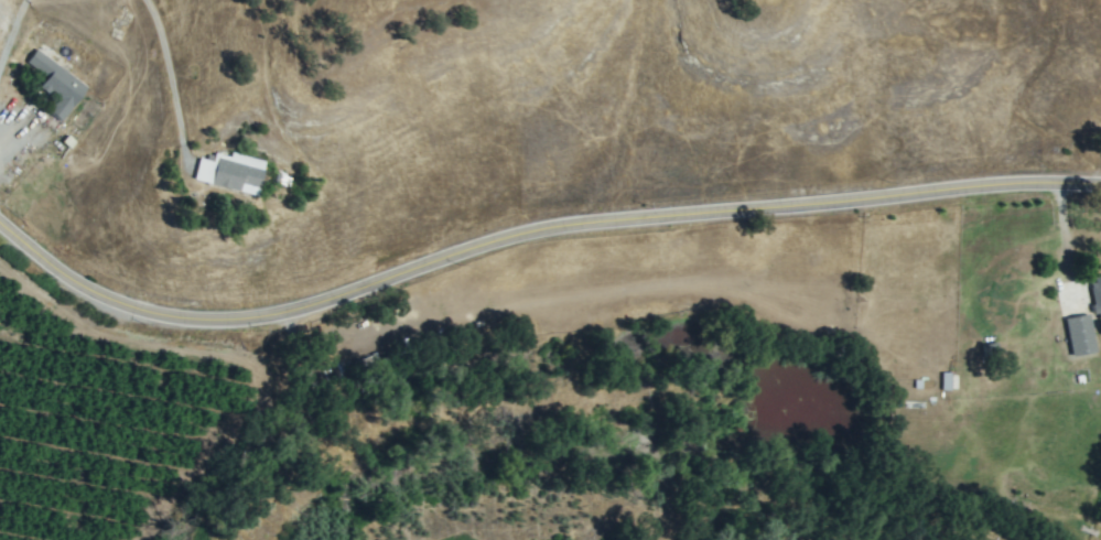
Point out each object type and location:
road: (12, 40)
road: (169, 67)
building: (60, 86)
building: (233, 174)
road: (530, 236)
building: (1098, 295)
building: (1081, 325)
building: (948, 381)

